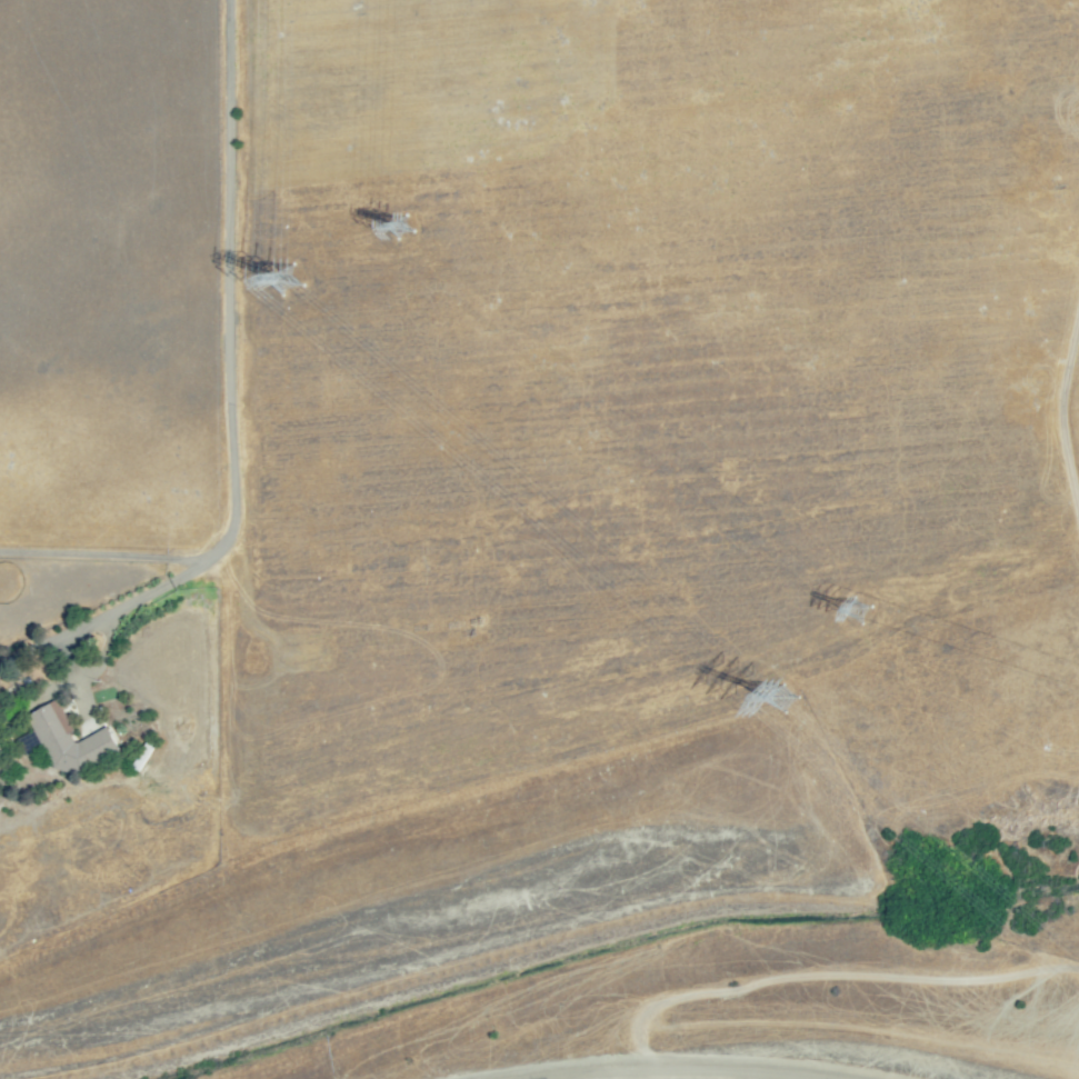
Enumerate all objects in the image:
road: (699, 72)
power tower: (411, 213)
power tower: (287, 296)
road: (229, 400)
road: (102, 553)
power tower: (871, 605)
road: (68, 656)
road: (97, 666)
power tower: (809, 701)
building: (69, 739)
building: (1, 749)
road: (695, 1059)

